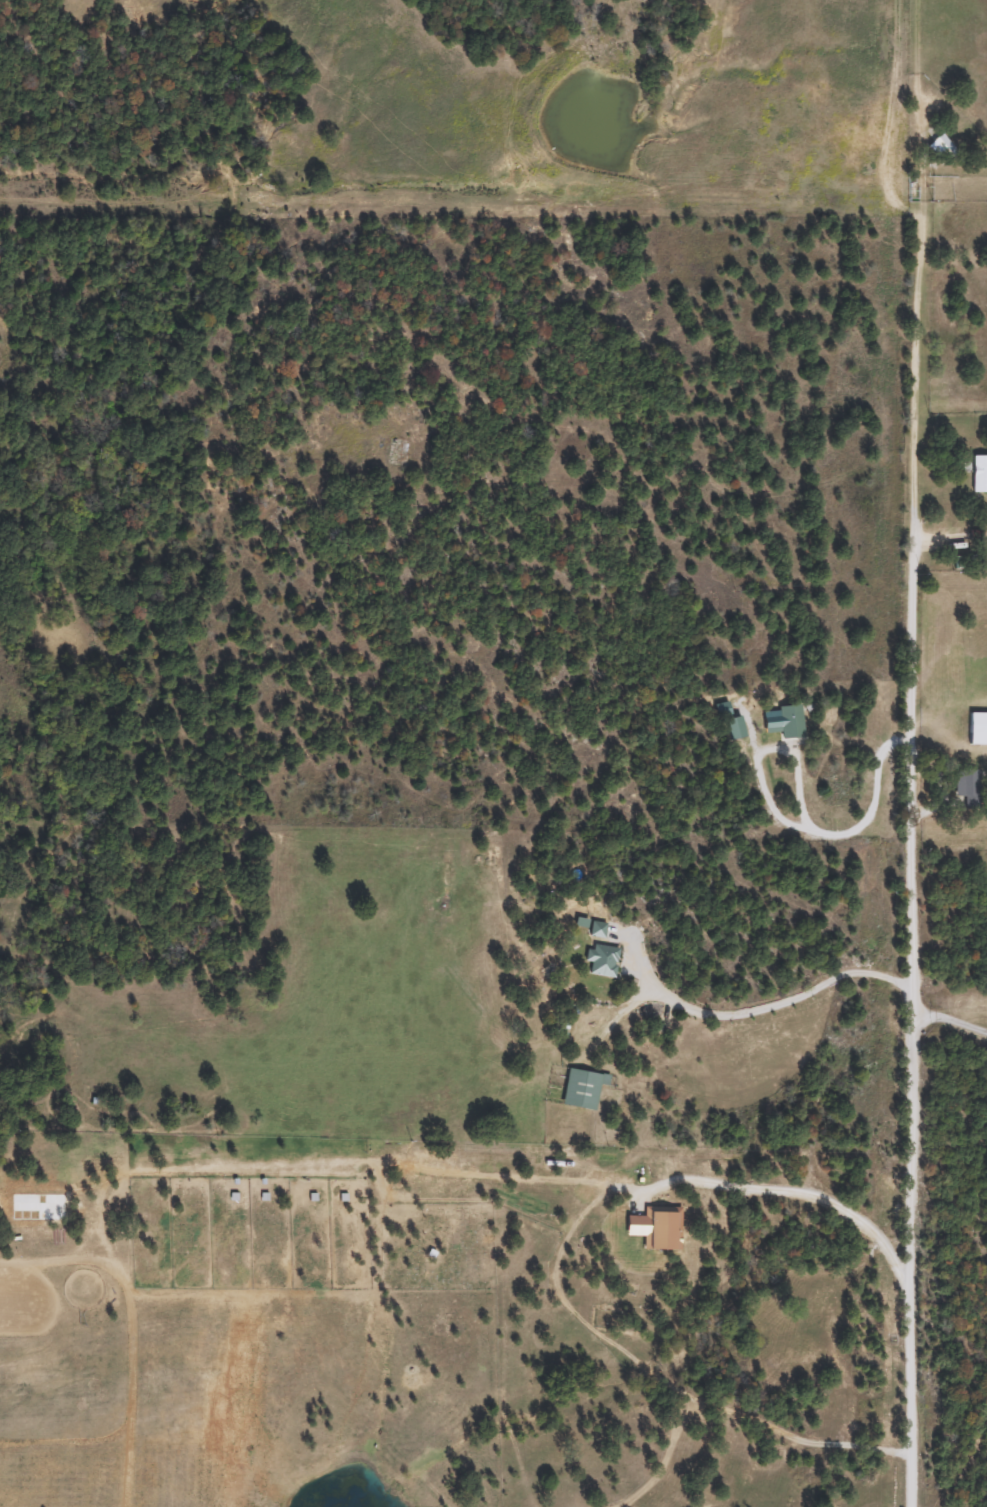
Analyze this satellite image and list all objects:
road: (916, 338)
building: (979, 474)
building: (977, 728)
building: (967, 787)
road: (784, 823)
building: (597, 929)
building: (601, 959)
road: (914, 983)
road: (778, 1006)
road: (951, 1022)
building: (580, 1089)
road: (791, 1193)
building: (652, 1229)

